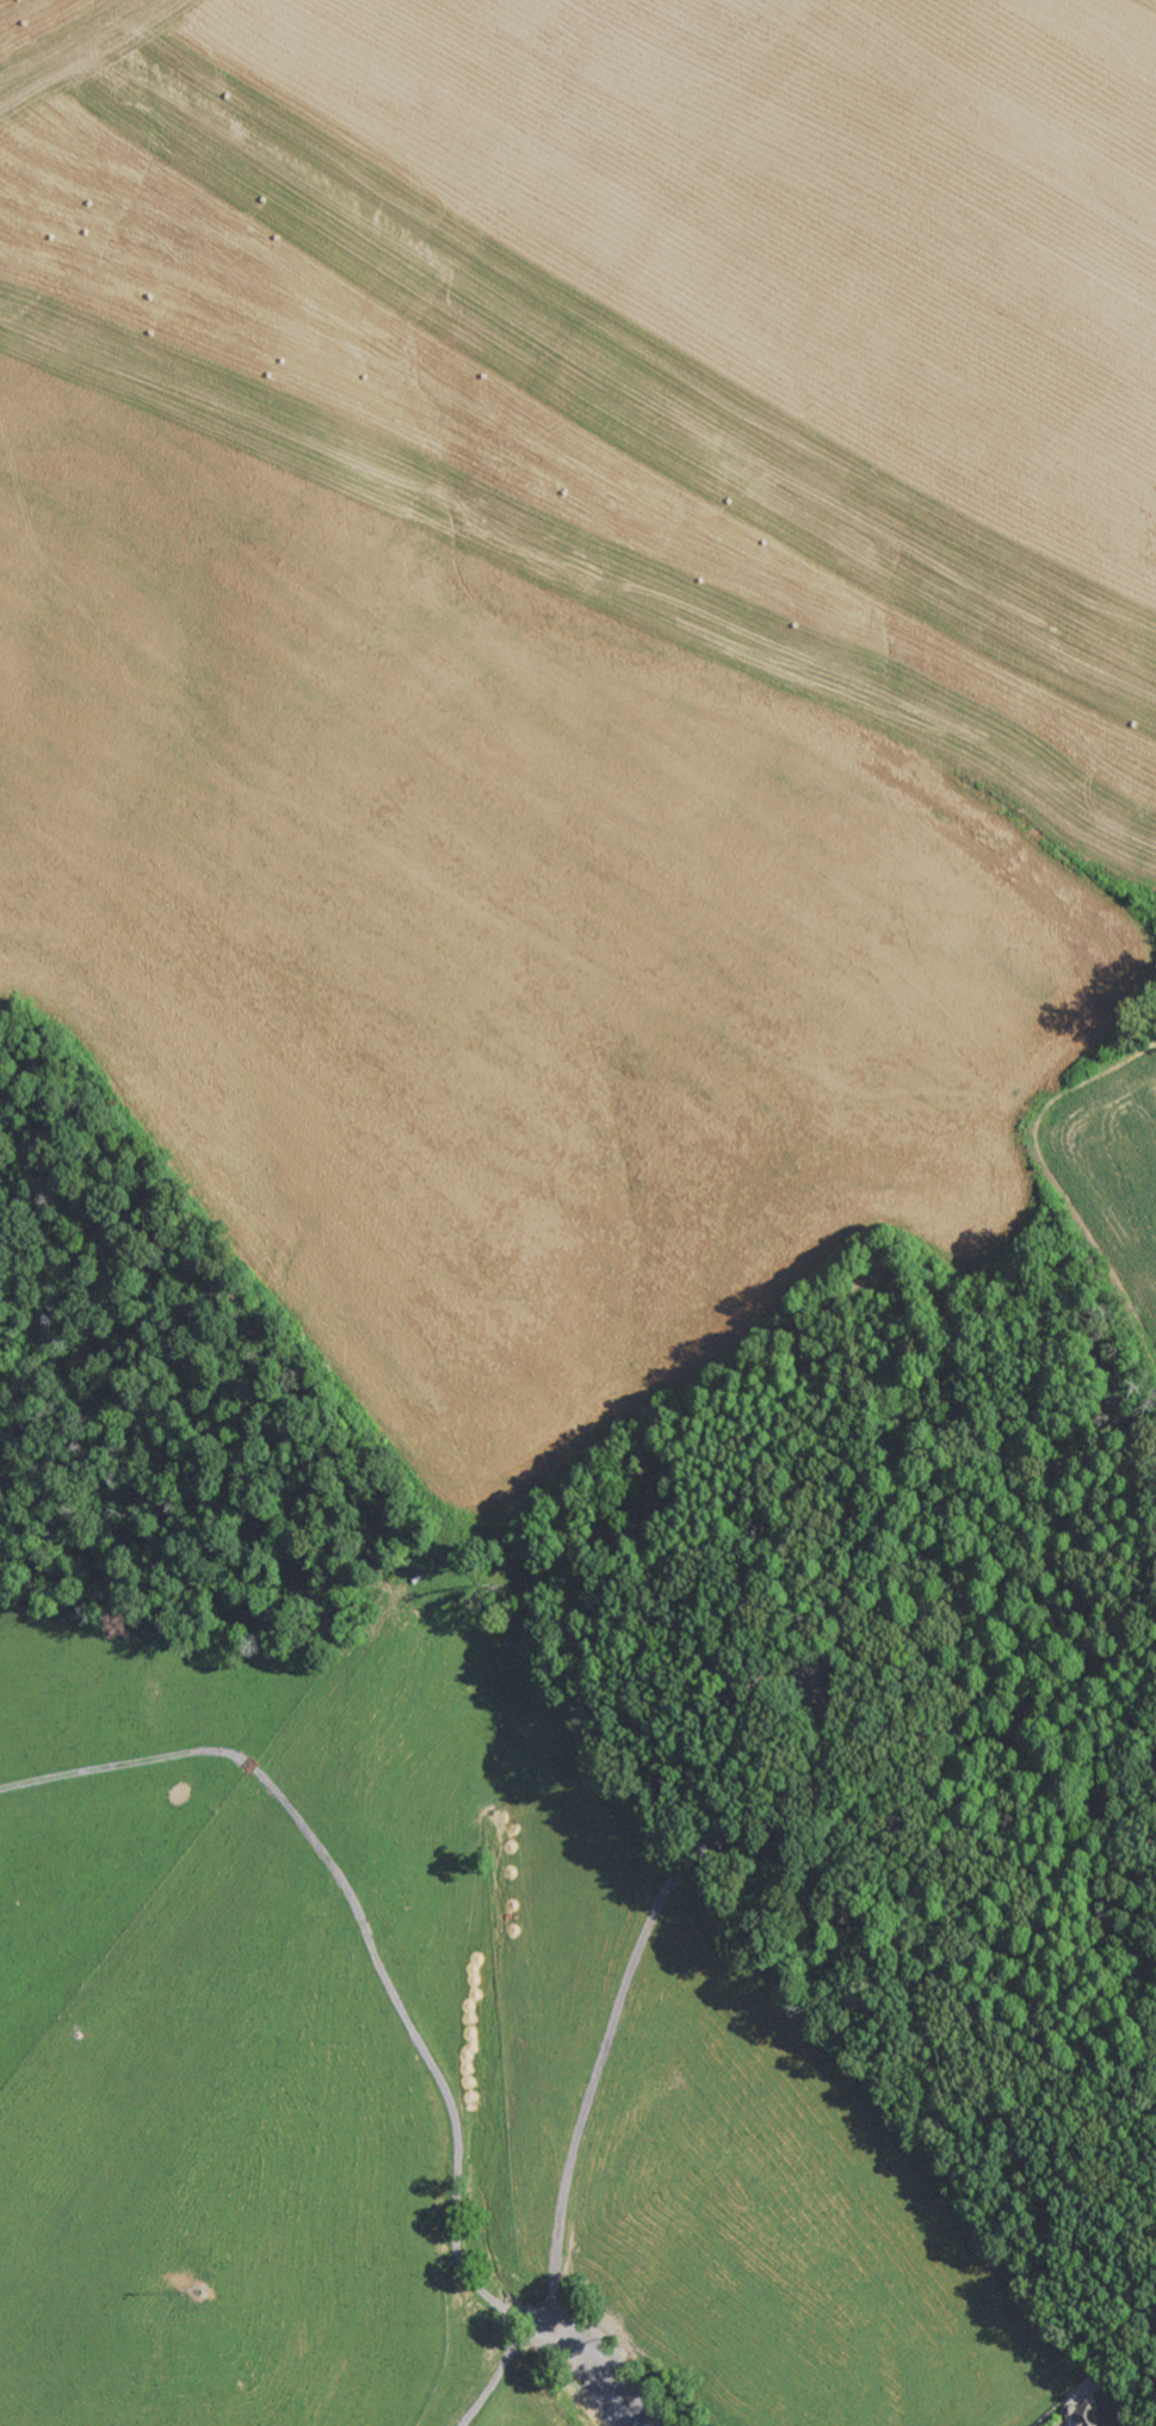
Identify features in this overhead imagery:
building: (1083, 2415)

